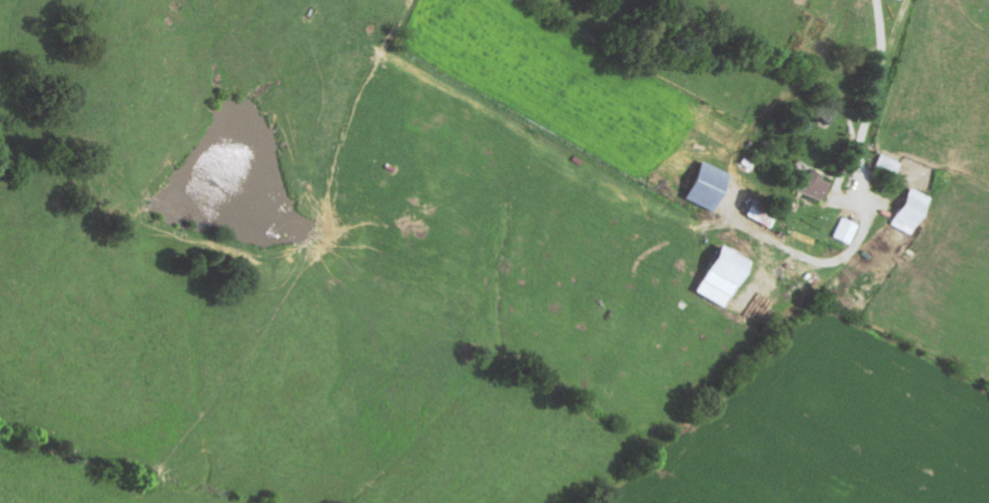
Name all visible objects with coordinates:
building: (904, 0)
building: (889, 166)
building: (815, 186)
building: (713, 187)
building: (914, 212)
building: (764, 215)
building: (848, 231)
building: (728, 277)

